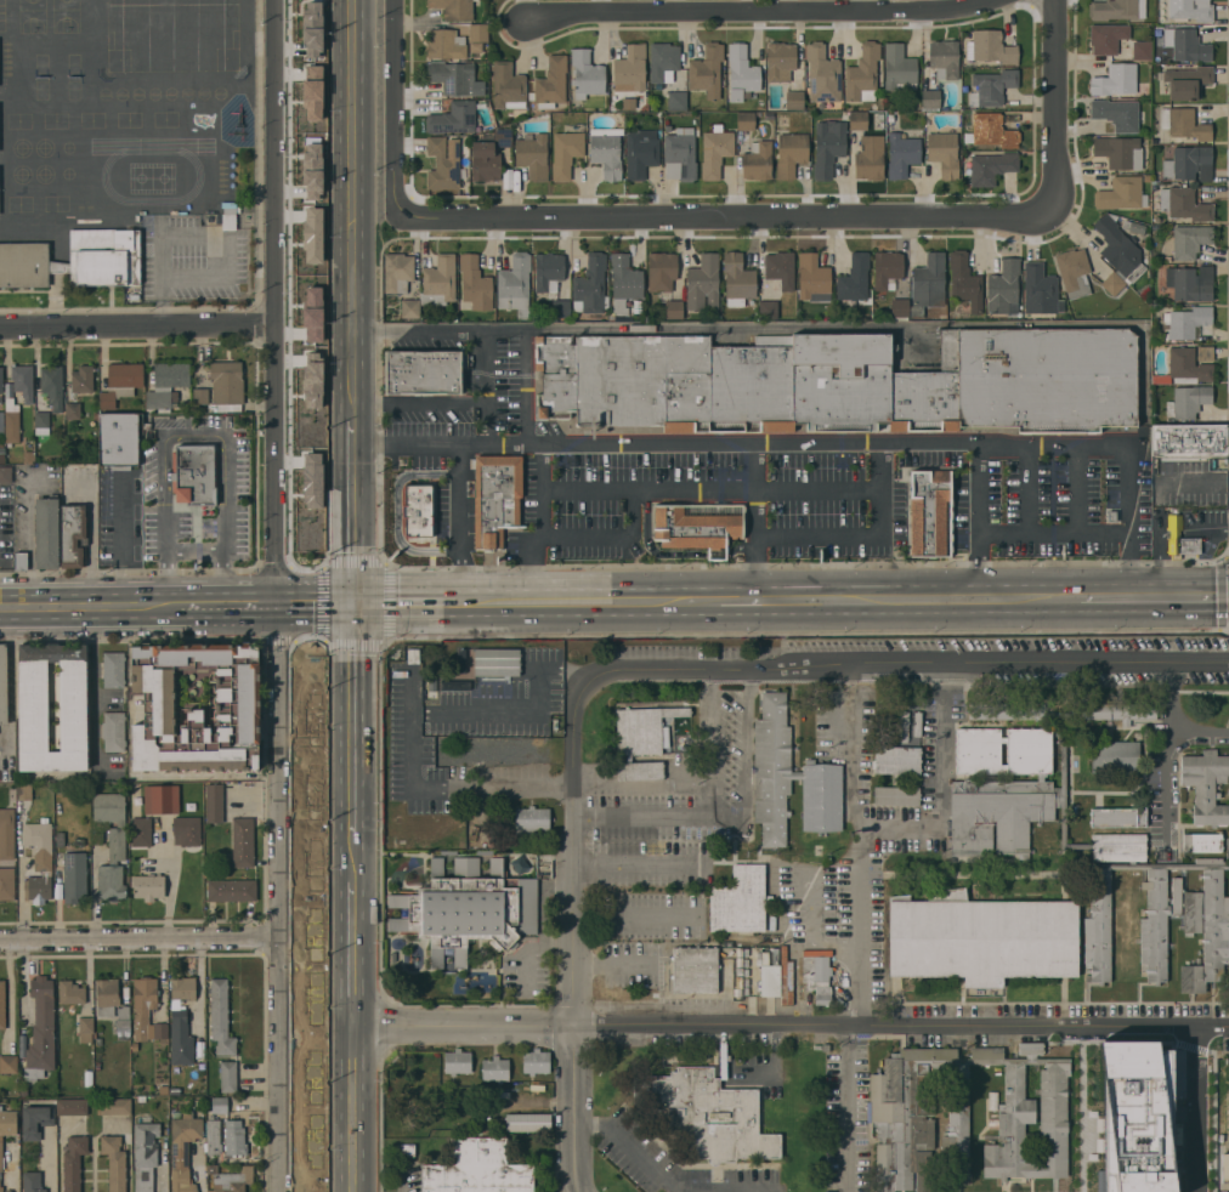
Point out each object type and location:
building: (453, 8)
building: (1116, 10)
building: (1190, 10)
road: (759, 13)
building: (312, 28)
building: (478, 32)
building: (1106, 38)
building: (446, 44)
building: (1186, 45)
building: (991, 47)
building: (1142, 50)
building: (944, 58)
building: (663, 61)
building: (780, 61)
building: (899, 68)
building: (630, 69)
building: (707, 70)
building: (741, 73)
building: (585, 74)
building: (822, 74)
building: (862, 74)
building: (453, 76)
building: (1115, 79)
building: (1188, 81)
building: (550, 83)
building: (508, 86)
building: (991, 87)
building: (312, 93)
building: (676, 100)
building: (794, 100)
building: (930, 100)
road: (1058, 107)
road: (393, 112)
building: (1116, 114)
building: (453, 118)
building: (746, 120)
building: (857, 120)
building: (1183, 124)
building: (991, 131)
building: (503, 137)
building: (827, 147)
building: (566, 152)
building: (606, 152)
building: (641, 152)
building: (1118, 152)
building: (715, 153)
building: (944, 153)
building: (532, 154)
building: (681, 154)
building: (791, 154)
building: (901, 154)
building: (311, 155)
building: (870, 158)
building: (485, 160)
building: (758, 160)
building: (1189, 163)
building: (442, 165)
building: (991, 168)
building: (312, 185)
building: (1121, 193)
building: (1184, 204)
road: (351, 212)
building: (228, 215)
road: (736, 215)
building: (1133, 227)
building: (312, 234)
building: (1190, 240)
building: (1120, 249)
building: (104, 257)
road: (162, 262)
building: (24, 265)
building: (58, 267)
building: (887, 268)
building: (548, 269)
building: (781, 269)
building: (661, 271)
building: (398, 272)
building: (1074, 272)
building: (812, 278)
building: (854, 278)
building: (737, 279)
building: (964, 280)
building: (438, 282)
building: (475, 283)
building: (703, 283)
building: (1114, 283)
building: (1190, 283)
building: (928, 284)
building: (515, 285)
building: (590, 285)
building: (623, 285)
building: (1003, 286)
building: (1041, 290)
building: (900, 307)
building: (409, 308)
building: (561, 308)
road: (163, 310)
building: (674, 310)
building: (768, 310)
building: (312, 313)
building: (1188, 320)
road: (136, 328)
road: (495, 330)
building: (1186, 367)
building: (424, 371)
building: (1, 379)
building: (81, 379)
building: (312, 379)
building: (23, 381)
building: (121, 382)
building: (843, 382)
building: (52, 386)
building: (166, 386)
building: (226, 386)
road: (483, 387)
building: (199, 396)
building: (1188, 401)
road: (418, 403)
building: (73, 410)
building: (12, 421)
building: (43, 422)
road: (196, 435)
building: (118, 441)
building: (1189, 441)
road: (815, 443)
building: (27, 456)
building: (2, 459)
road: (754, 464)
building: (5, 475)
building: (194, 475)
building: (312, 479)
road: (611, 486)
road: (840, 487)
road: (1027, 488)
road: (1077, 488)
road: (538, 489)
building: (495, 499)
road: (755, 506)
building: (392, 509)
building: (429, 512)
building: (929, 512)
road: (353, 515)
road: (979, 520)
road: (460, 523)
building: (695, 528)
building: (46, 532)
road: (1054, 533)
road: (839, 534)
building: (73, 535)
road: (585, 535)
building: (1179, 539)
road: (29, 543)
building: (441, 545)
road: (164, 555)
road: (227, 556)
building: (21, 561)
road: (538, 568)
road: (274, 596)
road: (1157, 596)
road: (1032, 597)
road: (759, 598)
road: (447, 602)
road: (316, 603)
traffic signals: (356, 603)
road: (137, 606)
building: (460, 662)
building: (497, 663)
road: (732, 668)
building: (113, 669)
road: (12, 676)
building: (393, 679)
building: (404, 679)
building: (2, 683)
building: (453, 686)
road: (94, 689)
road: (107, 697)
building: (33, 706)
building: (197, 709)
road: (468, 710)
road: (355, 717)
road: (1169, 723)
building: (904, 726)
building: (491, 727)
building: (644, 730)
building: (113, 731)
building: (500, 749)
building: (431, 754)
building: (1114, 756)
road: (746, 759)
building: (896, 760)
building: (771, 768)
building: (640, 771)
road: (1165, 781)
road: (938, 783)
building: (1206, 785)
road: (509, 789)
building: (24, 791)
building: (896, 795)
building: (821, 796)
building: (160, 799)
building: (214, 804)
road: (710, 811)
building: (1116, 817)
building: (532, 819)
building: (112, 822)
building: (186, 830)
building: (140, 831)
building: (6, 834)
building: (60, 835)
building: (79, 841)
building: (243, 842)
building: (1202, 842)
building: (39, 845)
road: (859, 845)
building: (1087, 845)
building: (1227, 847)
road: (355, 857)
road: (634, 869)
building: (74, 875)
building: (7, 882)
building: (111, 882)
building: (148, 886)
building: (38, 889)
building: (232, 890)
building: (1176, 896)
building: (738, 901)
building: (468, 908)
road: (634, 918)
building: (981, 937)
road: (140, 938)
road: (353, 954)
road: (608, 965)
building: (695, 970)
building: (769, 974)
building: (817, 974)
building: (786, 977)
road: (199, 984)
building: (70, 993)
building: (145, 995)
building: (107, 997)
building: (2, 1005)
building: (220, 1017)
building: (181, 1021)
building: (123, 1022)
building: (140, 1023)
road: (791, 1026)
building: (85, 1029)
building: (160, 1029)
building: (40, 1031)
building: (98, 1041)
building: (1225, 1060)
building: (457, 1061)
building: (536, 1061)
building: (7, 1063)
building: (495, 1068)
road: (723, 1074)
building: (228, 1077)
building: (23, 1090)
building: (163, 1090)
building: (1032, 1092)
building: (219, 1105)
building: (73, 1106)
building: (115, 1106)
road: (574, 1108)
road: (844, 1108)
road: (352, 1109)
road: (1197, 1111)
building: (708, 1114)
building: (1010, 1116)
building: (1135, 1117)
building: (35, 1120)
building: (7, 1122)
building: (214, 1136)
building: (234, 1139)
building: (404, 1150)
building: (1032, 1150)
building: (183, 1151)
building: (145, 1154)
building: (1, 1156)
building: (73, 1162)
building: (114, 1162)
road: (15, 1168)
building: (1225, 1168)
building: (476, 1169)
road: (664, 1177)
building: (231, 1179)
building: (32, 1181)
building: (1, 1191)
building: (7, 1191)

